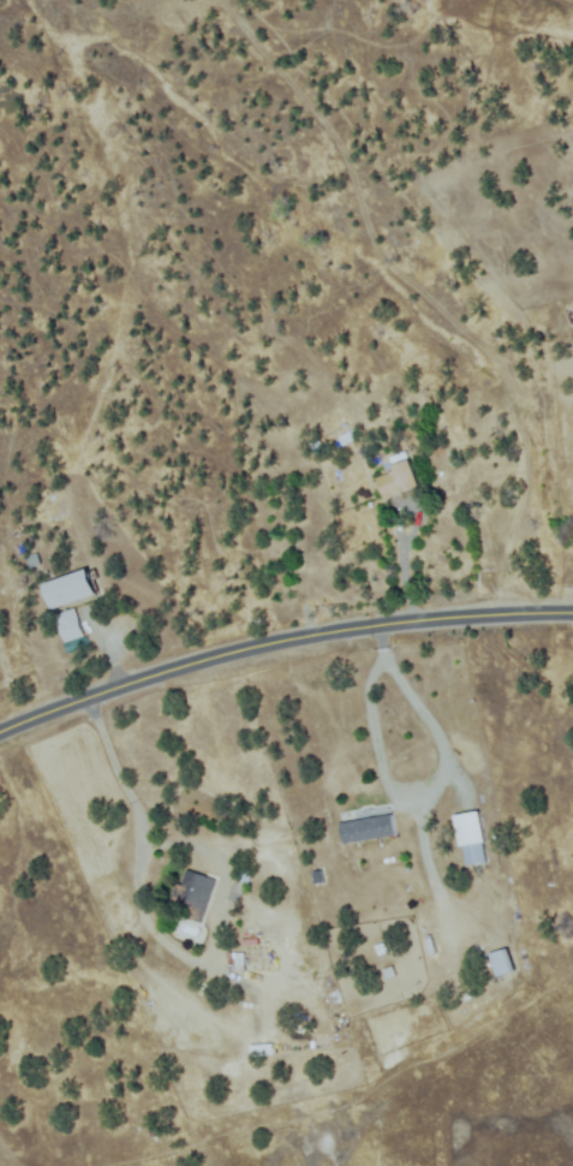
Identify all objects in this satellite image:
building: (350, 436)
building: (317, 448)
building: (399, 477)
building: (34, 560)
building: (71, 589)
building: (68, 625)
road: (280, 642)
building: (74, 646)
building: (368, 829)
building: (472, 838)
building: (245, 874)
building: (317, 878)
building: (192, 896)
building: (377, 951)
building: (238, 960)
building: (502, 963)
building: (387, 975)
building: (261, 1049)

